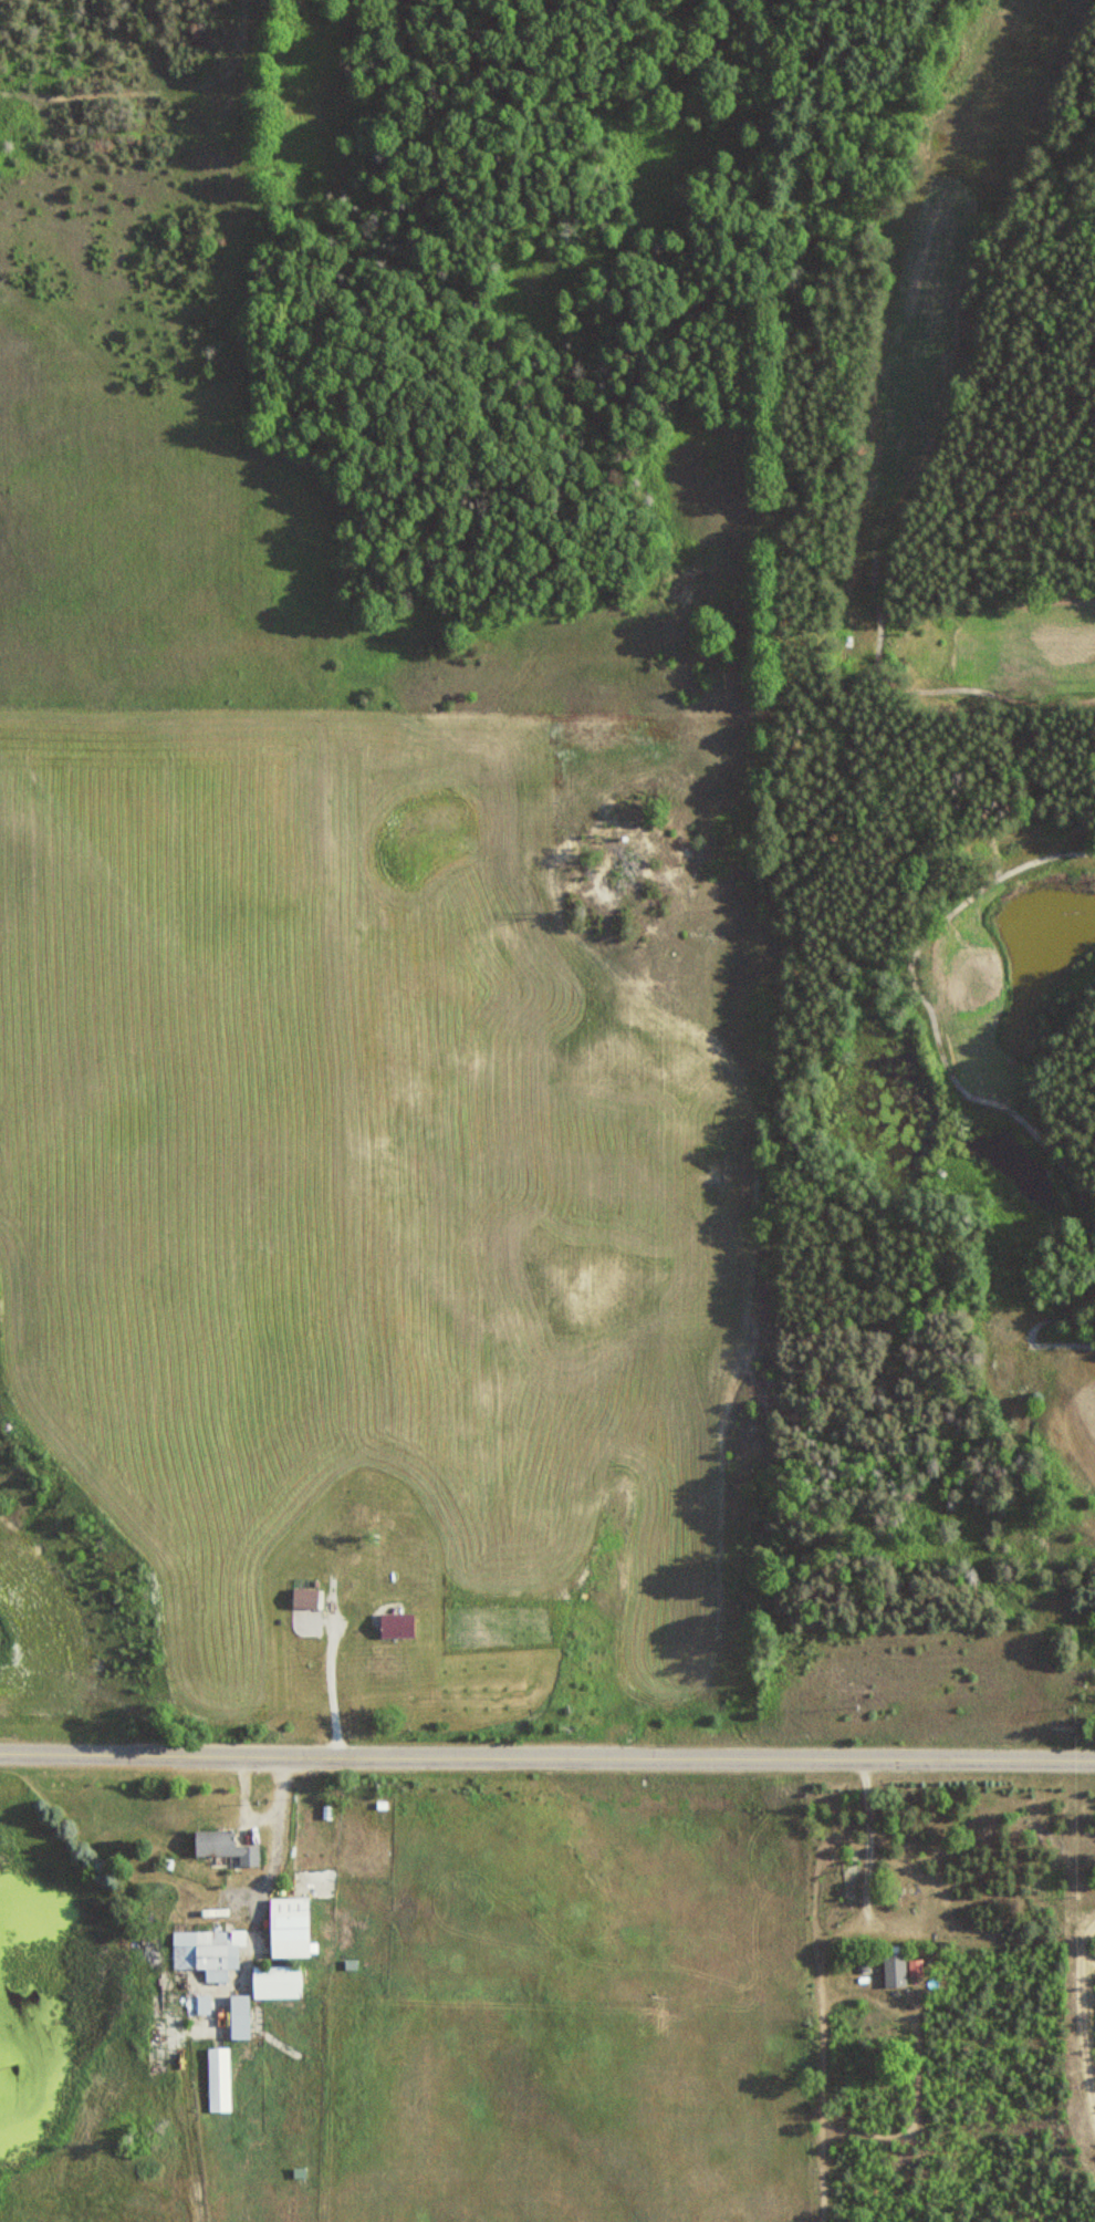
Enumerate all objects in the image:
park: (956, 826)
building: (363, 1519)
building: (305, 1598)
building: (397, 1624)
building: (348, 1672)
road: (547, 1753)
building: (226, 1846)
building: (290, 1928)
building: (208, 1951)
building: (895, 1971)
building: (278, 1981)
building: (240, 2016)
building: (219, 2078)

